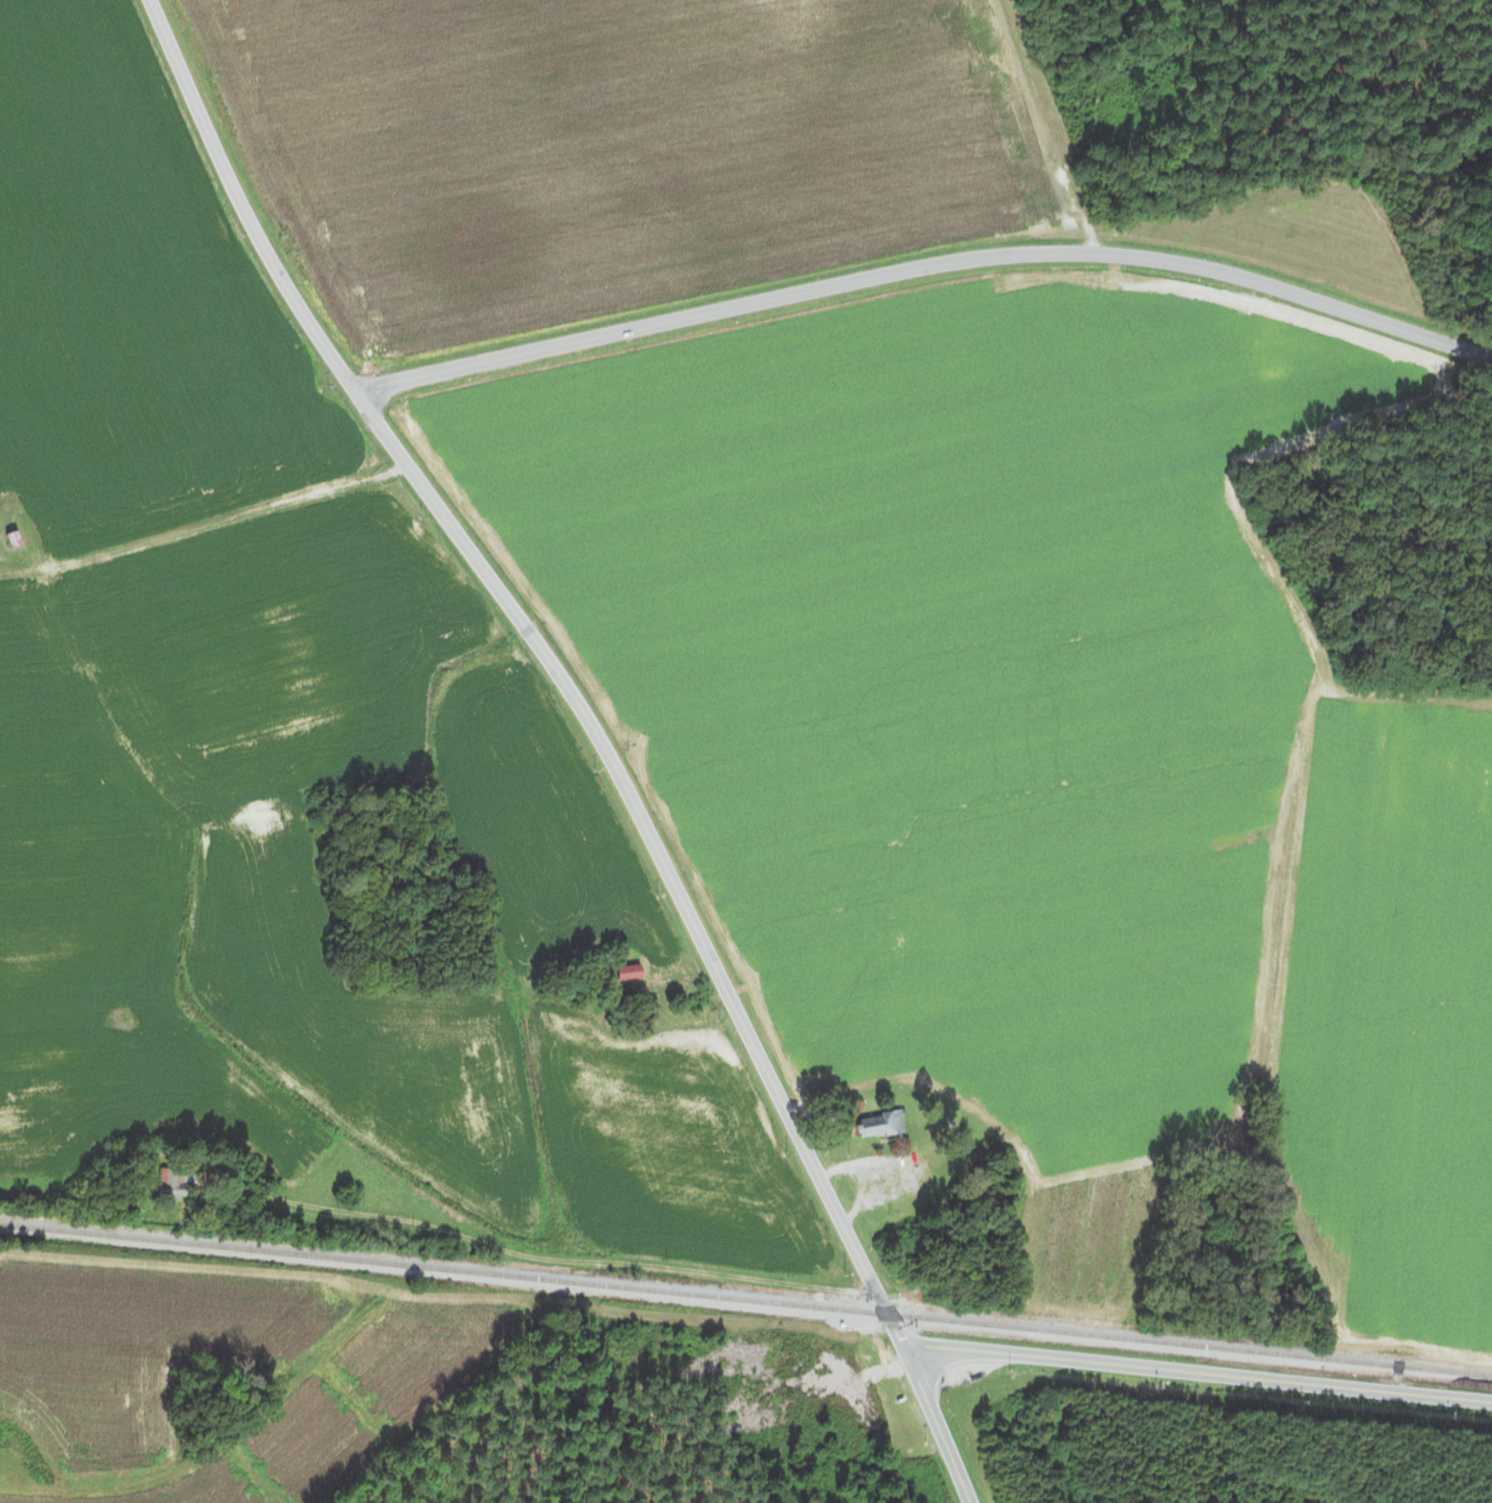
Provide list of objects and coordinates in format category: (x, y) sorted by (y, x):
road: (925, 260)
road: (593, 731)
building: (620, 970)
building: (874, 1122)
building: (171, 1182)
road: (559, 1258)
railway: (746, 1299)
road: (1195, 1368)

